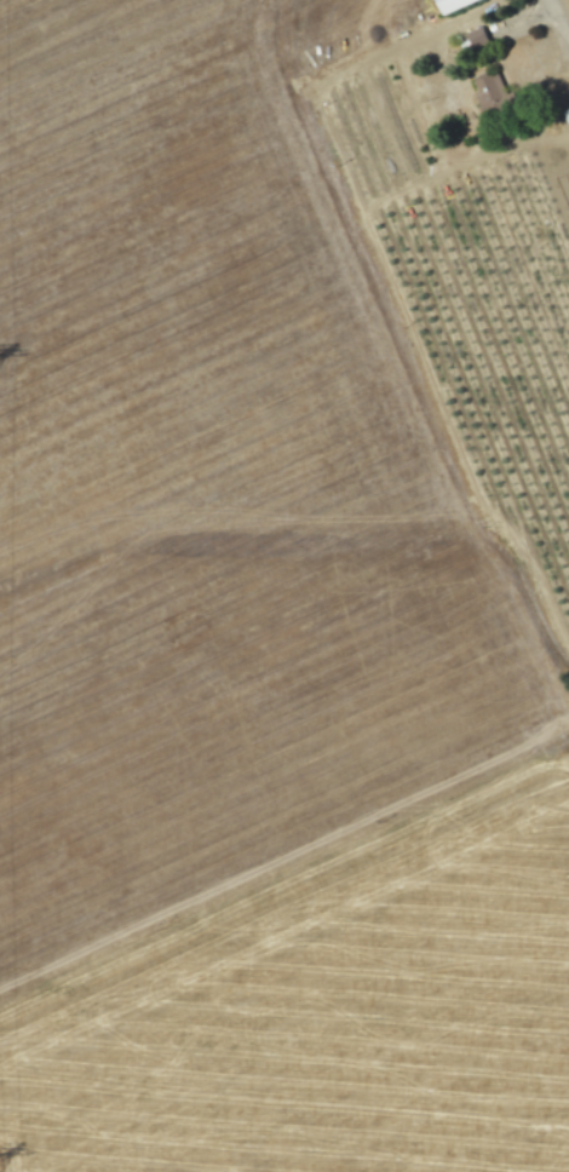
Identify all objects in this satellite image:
road: (557, 17)
road: (505, 23)

